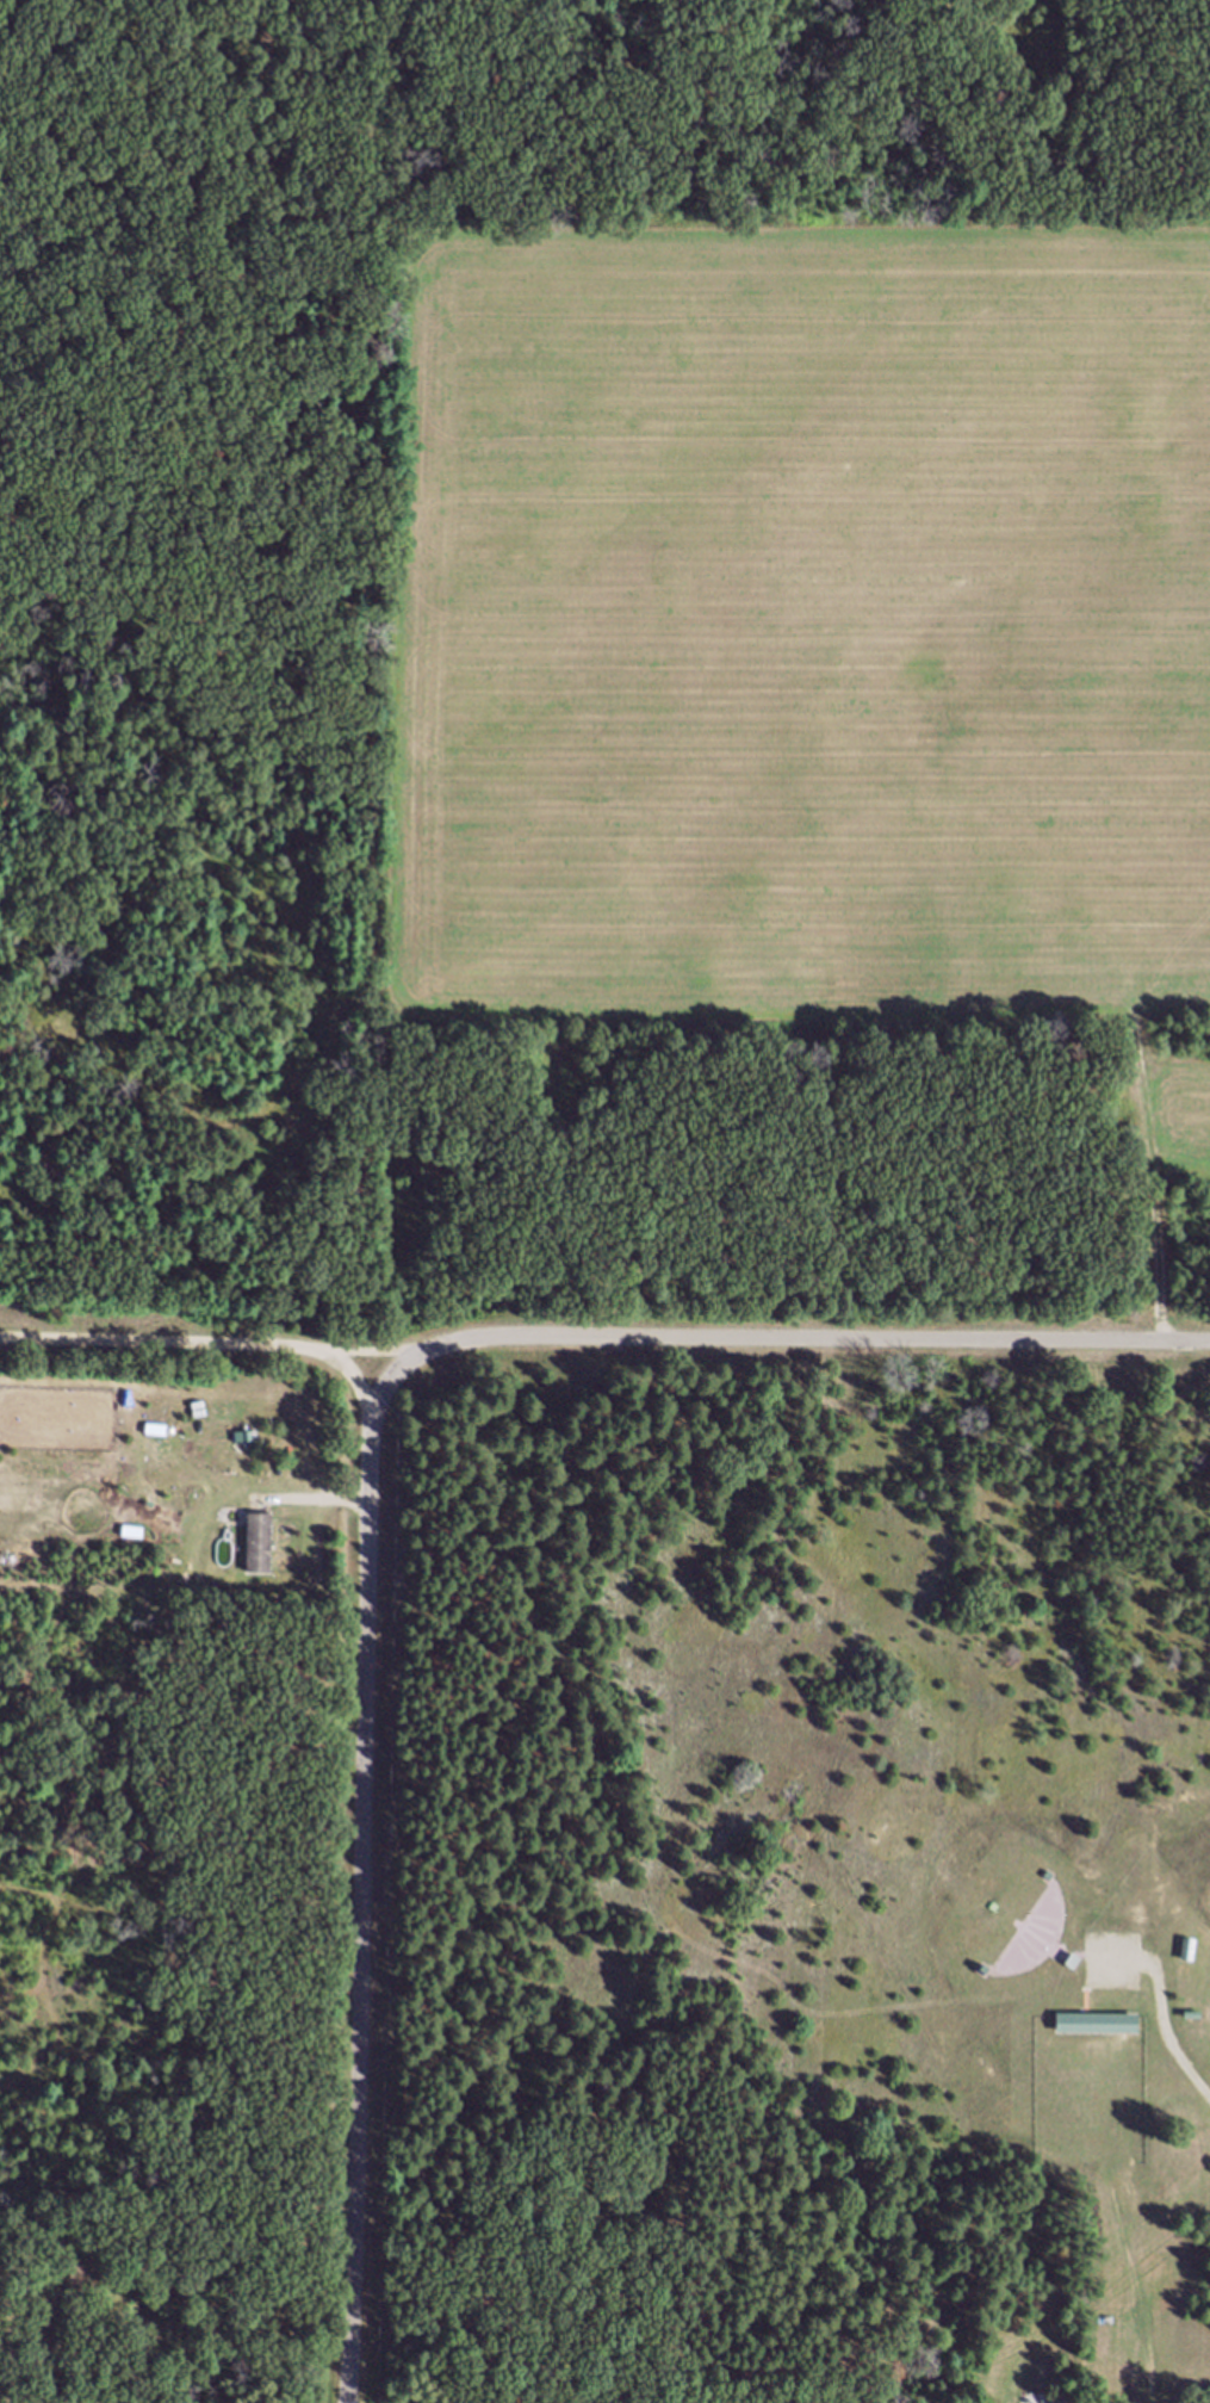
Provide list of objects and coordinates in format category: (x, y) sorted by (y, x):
road: (784, 1334)
road: (181, 1342)
building: (255, 1554)
road: (355, 1877)
building: (1184, 1961)
building: (1184, 2007)
building: (1093, 2024)
road: (1168, 2032)

